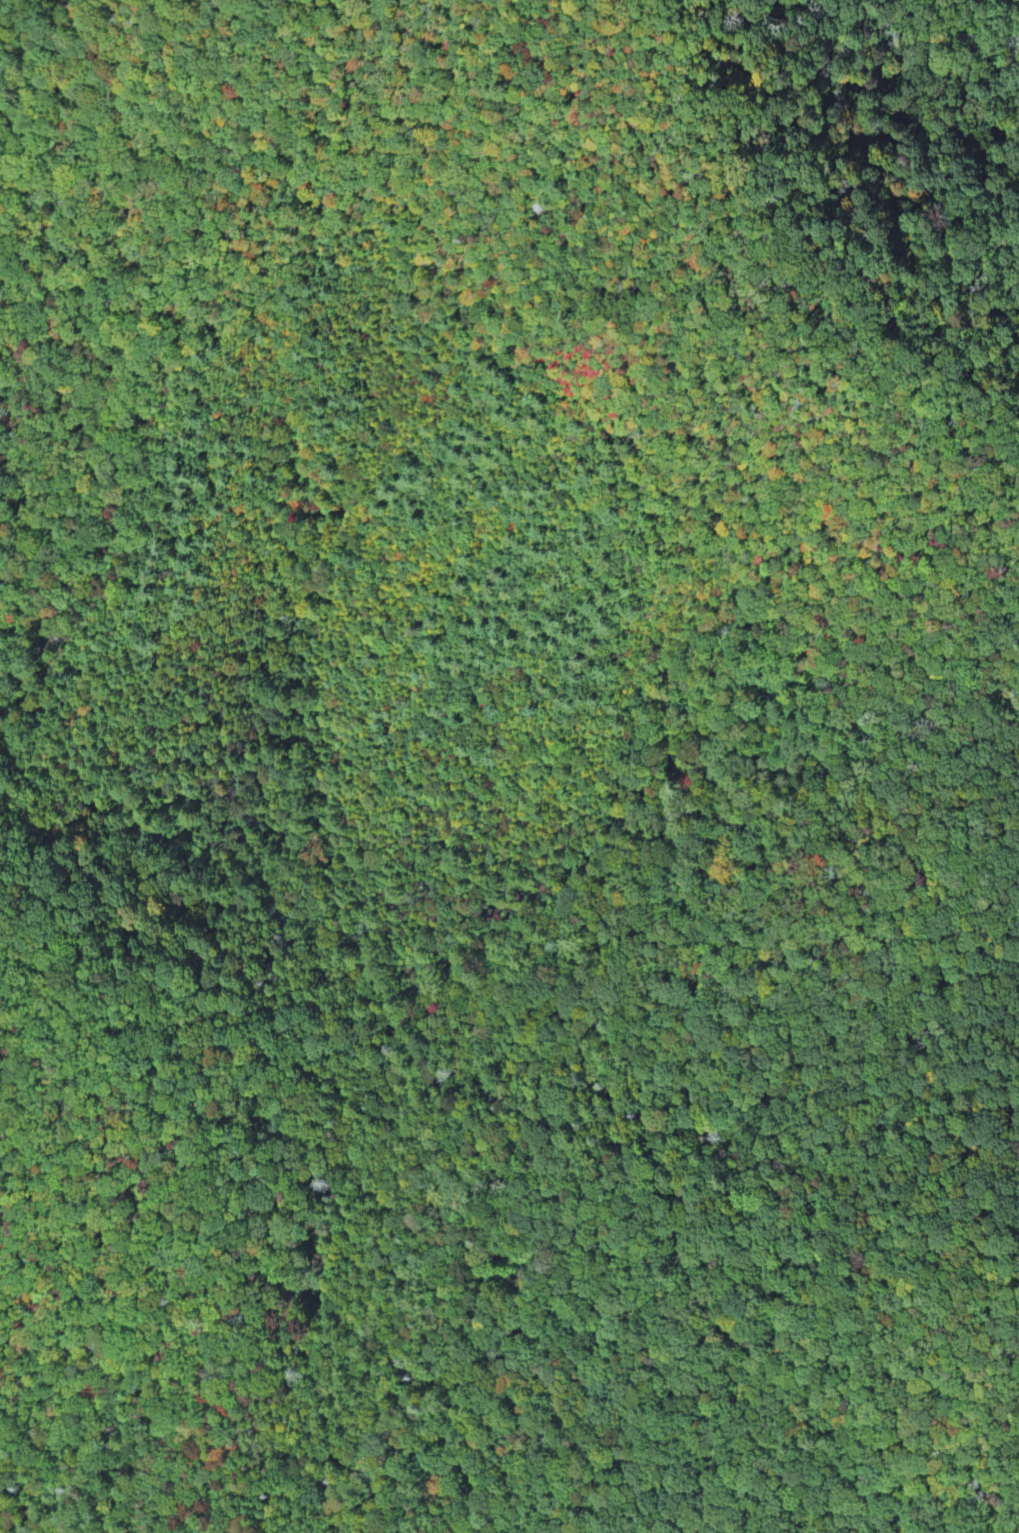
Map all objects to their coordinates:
road: (950, 109)
road: (1012, 295)
road: (834, 1285)

